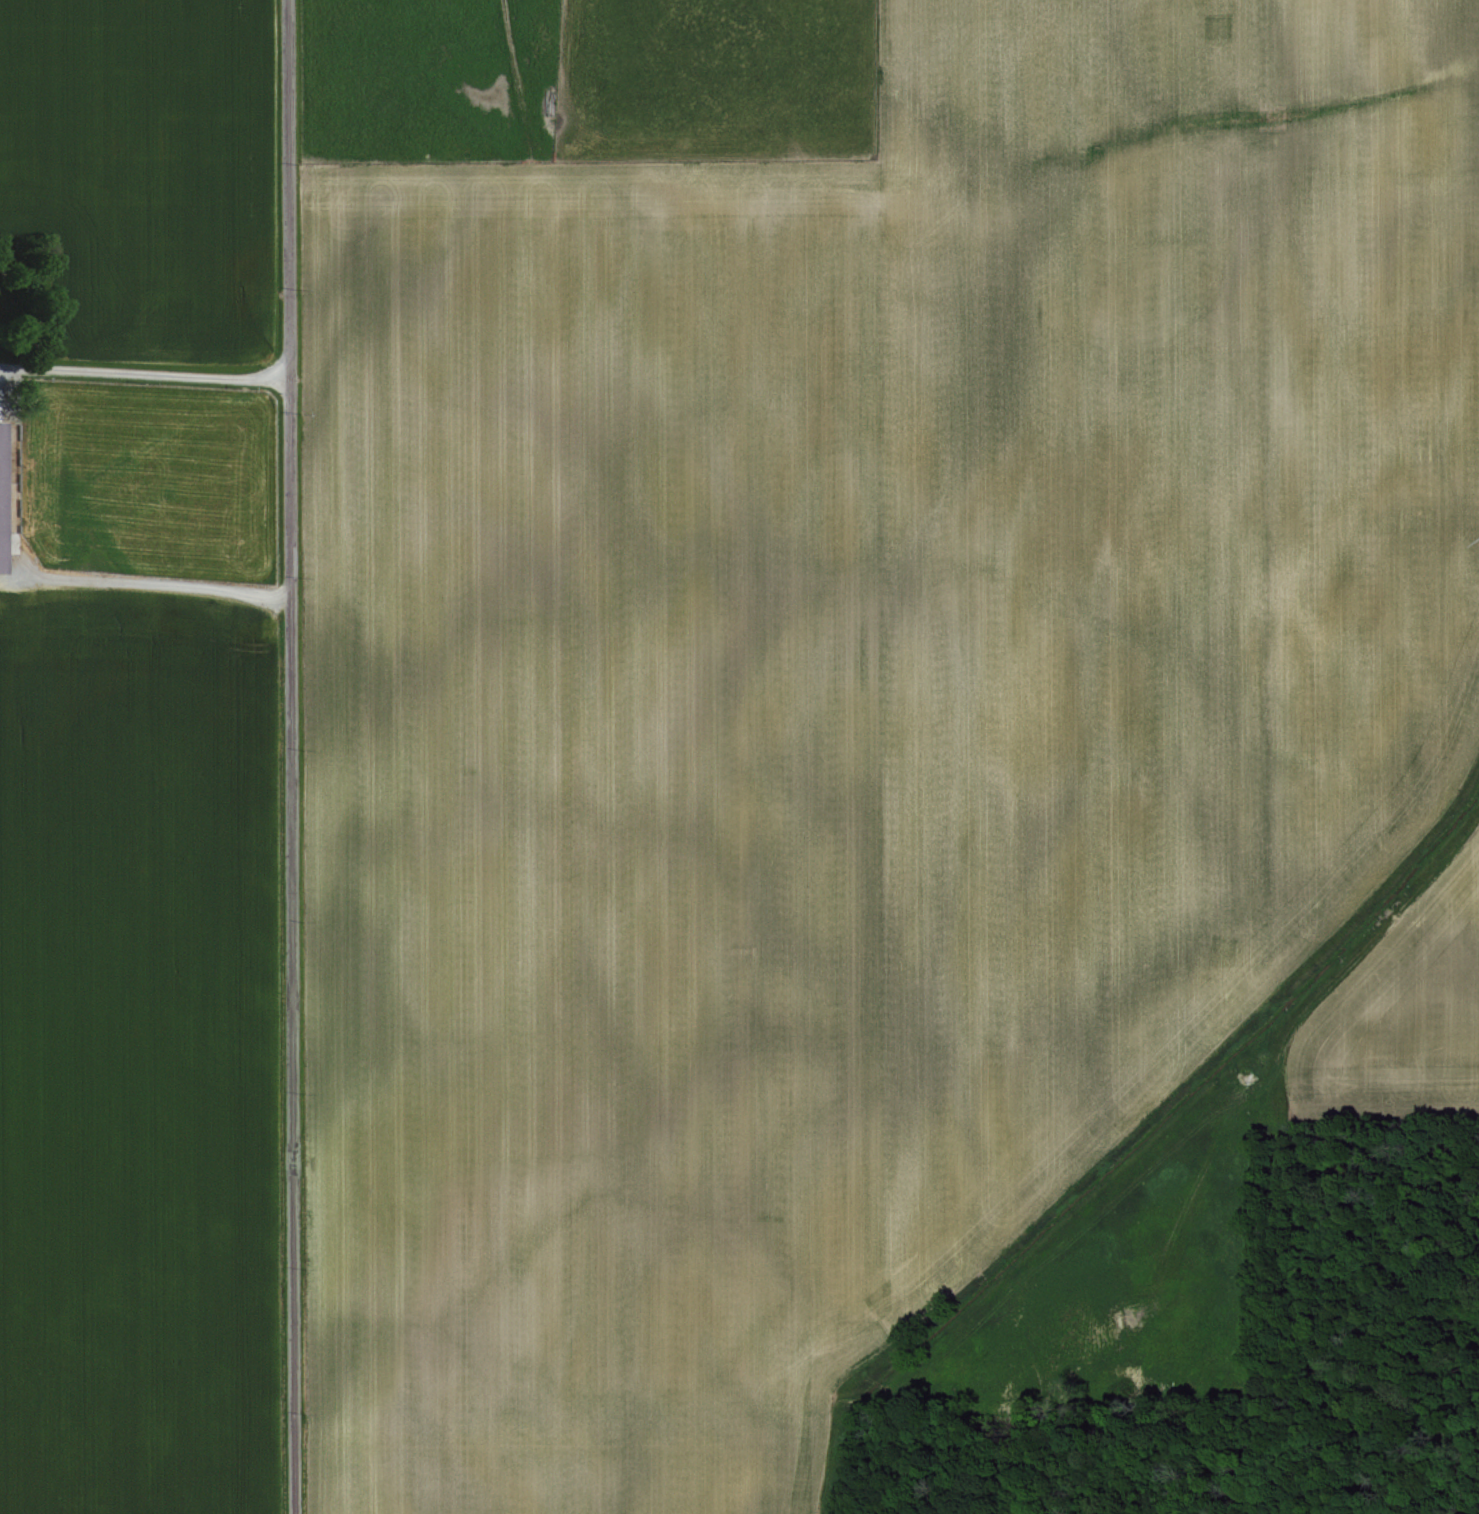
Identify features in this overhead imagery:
road: (141, 374)
road: (151, 584)
road: (285, 756)

